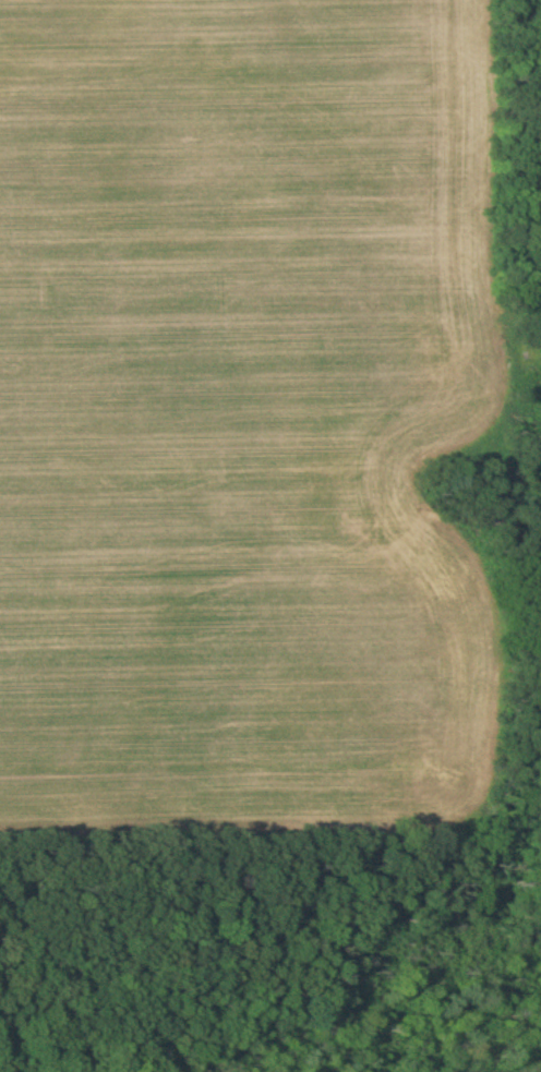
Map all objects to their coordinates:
road: (348, 273)

